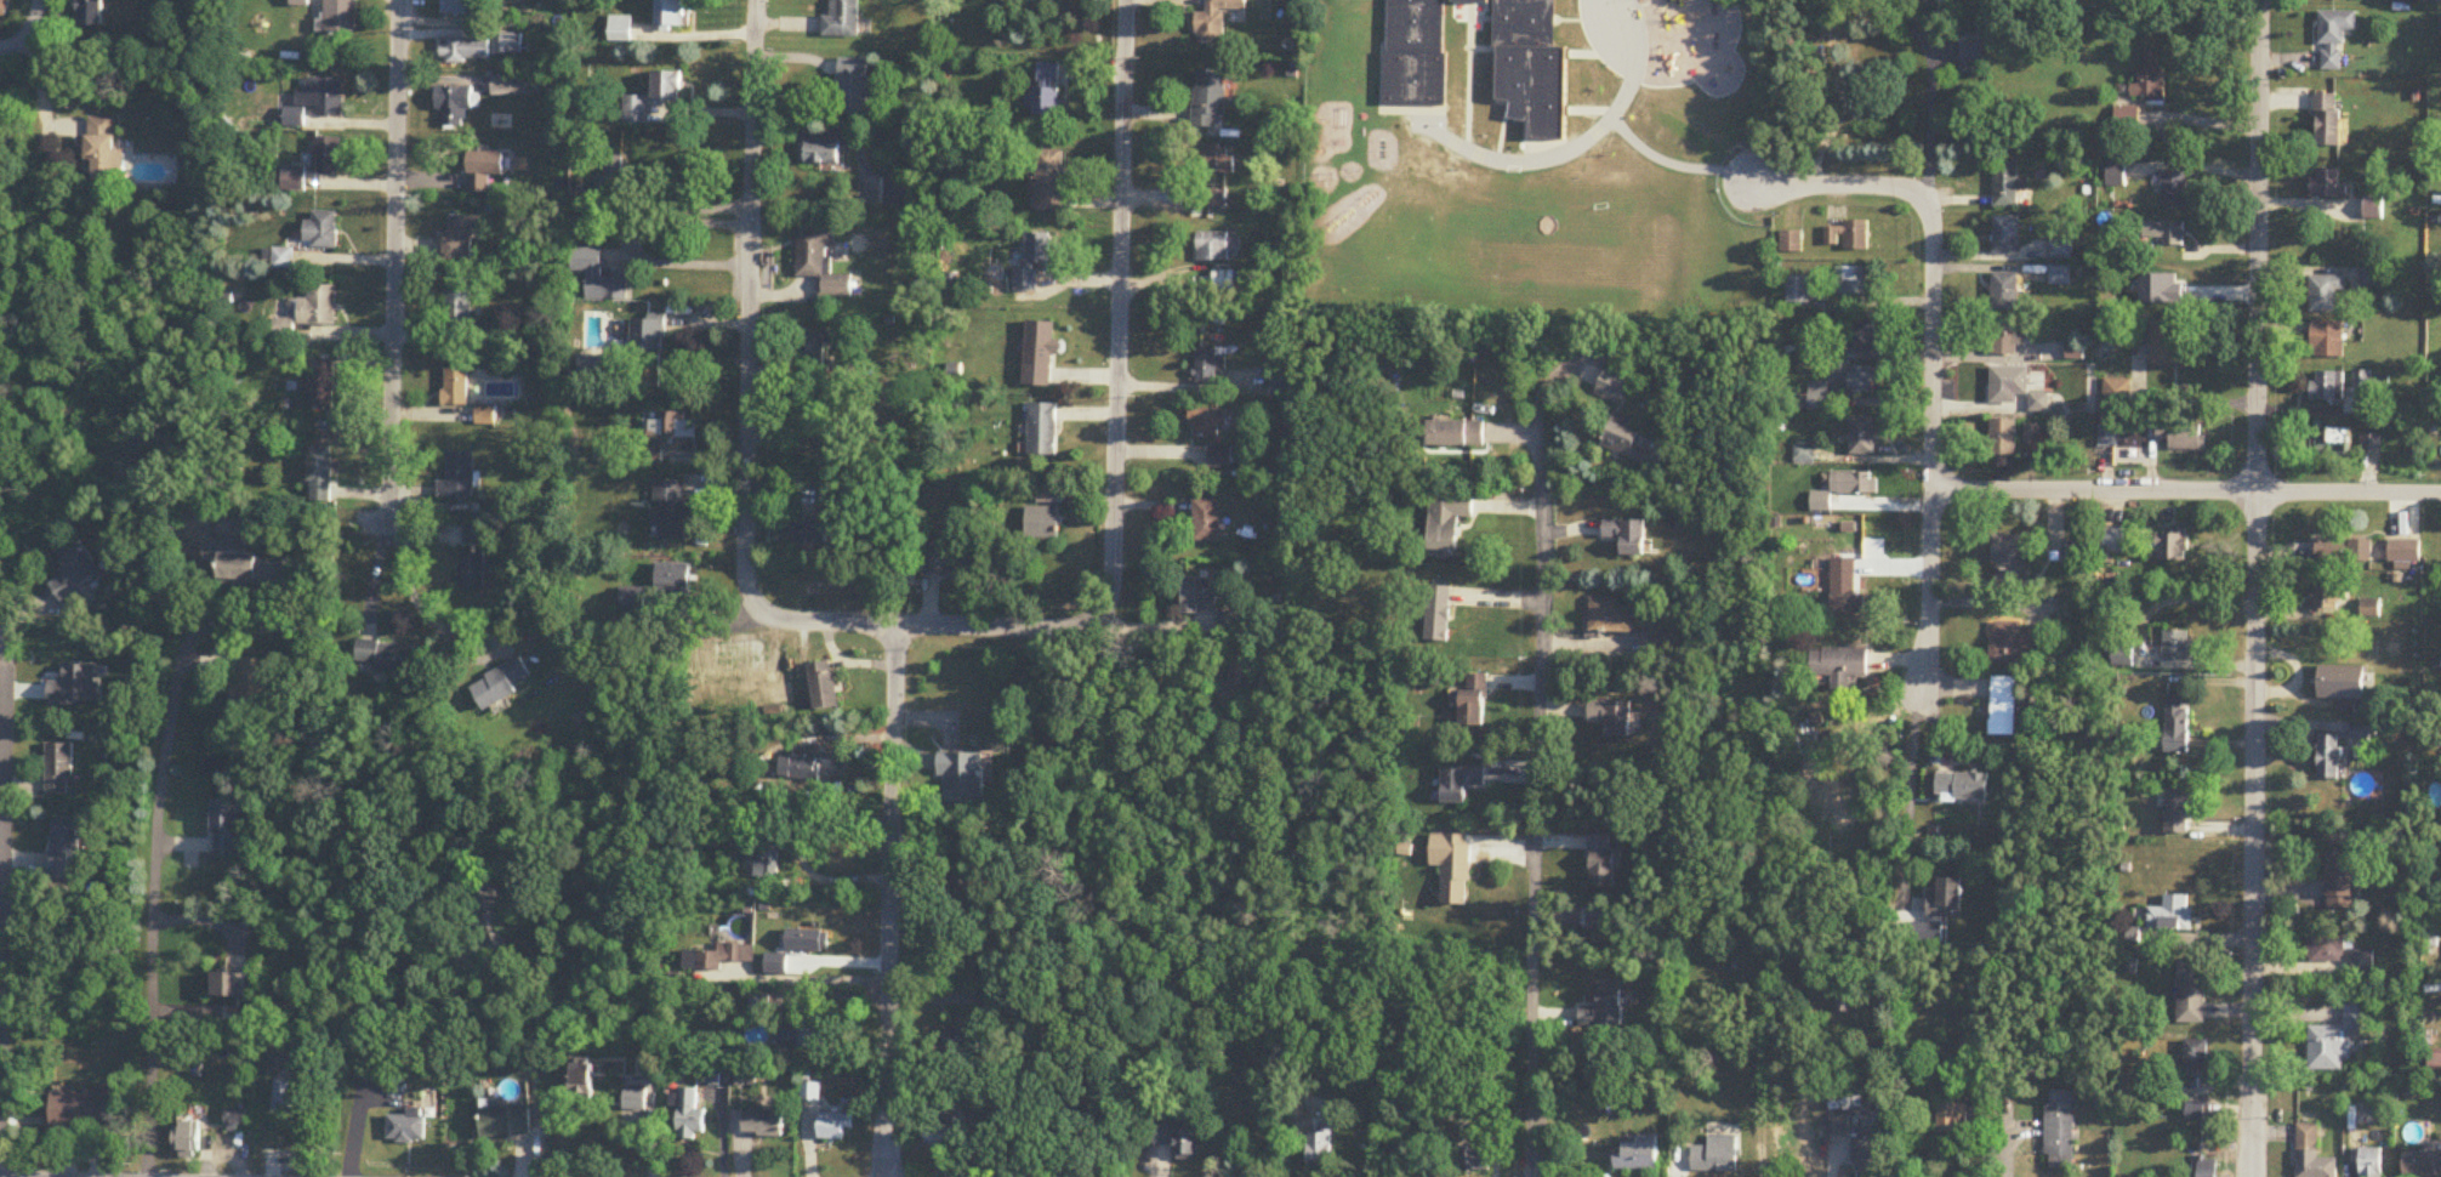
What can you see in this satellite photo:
building: (463, 8)
building: (4, 10)
building: (91, 13)
building: (670, 13)
building: (340, 16)
building: (843, 19)
building: (1216, 21)
building: (2335, 38)
building: (512, 44)
road: (18, 49)
building: (465, 50)
building: (1971, 55)
road: (38, 75)
building: (1415, 76)
building: (2151, 79)
building: (513, 87)
building: (667, 87)
road: (1922, 87)
building: (1046, 92)
building: (318, 98)
building: (1210, 99)
building: (455, 104)
building: (636, 110)
building: (2329, 121)
building: (103, 152)
building: (820, 154)
building: (326, 155)
building: (1218, 160)
building: (2116, 176)
building: (294, 178)
building: (611, 180)
building: (1051, 181)
road: (1842, 187)
building: (2010, 187)
building: (2328, 187)
building: (2174, 189)
building: (897, 193)
building: (2373, 210)
building: (320, 231)
building: (2164, 233)
building: (2007, 235)
building: (462, 237)
building: (1848, 237)
building: (1792, 243)
building: (1218, 248)
building: (1036, 249)
building: (2061, 250)
road: (393, 256)
building: (280, 260)
road: (681, 262)
building: (821, 265)
building: (599, 277)
building: (2372, 278)
building: (1025, 280)
building: (1854, 283)
building: (1798, 291)
building: (2005, 292)
building: (2327, 295)
building: (457, 309)
building: (307, 313)
building: (648, 336)
building: (1862, 336)
building: (2007, 337)
building: (2328, 341)
building: (2166, 342)
building: (810, 351)
building: (1041, 354)
building: (1210, 366)
road: (749, 374)
building: (1281, 377)
building: (2371, 381)
building: (1865, 382)
building: (322, 385)
road: (1196, 386)
building: (455, 387)
building: (1612, 388)
building: (2327, 388)
building: (2015, 390)
building: (2118, 397)
road: (1115, 413)
building: (807, 414)
building: (1210, 422)
building: (1043, 431)
building: (668, 432)
building: (1457, 433)
building: (2183, 437)
building: (1623, 438)
building: (1862, 438)
building: (2122, 438)
building: (2003, 439)
building: (2334, 440)
building: (2371, 444)
road: (1930, 449)
building: (1223, 456)
building: (319, 476)
building: (457, 477)
building: (1851, 484)
road: (2185, 490)
building: (671, 507)
building: (1208, 521)
building: (1447, 521)
building: (1042, 525)
building: (1627, 531)
building: (812, 534)
building: (473, 535)
building: (2111, 541)
building: (2173, 545)
building: (2329, 550)
building: (2361, 551)
building: (2076, 553)
building: (2405, 555)
building: (2010, 559)
building: (945, 563)
building: (75, 570)
building: (258, 573)
building: (472, 573)
building: (673, 582)
road: (2255, 587)
building: (1847, 590)
building: (1201, 595)
building: (2327, 597)
building: (633, 599)
road: (419, 602)
building: (2371, 609)
building: (1436, 610)
building: (1611, 614)
road: (698, 630)
building: (2018, 642)
building: (2177, 646)
building: (387, 655)
building: (2123, 660)
road: (1, 664)
building: (1840, 665)
building: (1245, 673)
building: (2331, 682)
building: (501, 683)
building: (252, 684)
building: (823, 686)
building: (1472, 696)
building: (2004, 706)
building: (1611, 715)
building: (2178, 723)
road: (1, 747)
building: (2329, 756)
road: (1538, 757)
building: (801, 768)
building: (61, 769)
building: (963, 777)
building: (1461, 780)
building: (1963, 786)
road: (1908, 800)
building: (2178, 811)
building: (228, 830)
building: (64, 848)
building: (769, 857)
road: (157, 858)
building: (1598, 860)
building: (974, 871)
building: (1456, 872)
building: (2343, 885)
building: (1946, 899)
road: (889, 902)
building: (2170, 915)
building: (489, 916)
building: (809, 940)
building: (2326, 948)
building: (721, 956)
building: (2363, 963)
building: (778, 965)
road: (814, 978)
building: (229, 985)
building: (2191, 993)
building: (761, 1005)
building: (1023, 1007)
building: (1604, 1007)
building: (806, 1029)
road: (368, 1031)
building: (971, 1040)
building: (2337, 1040)
building: (1976, 1044)
building: (2194, 1062)
building: (584, 1075)
building: (285, 1094)
building: (85, 1109)
building: (2195, 1113)
building: (689, 1114)
building: (1953, 1119)
building: (506, 1122)
building: (763, 1122)
building: (835, 1126)
building: (1839, 1126)
building: (2060, 1126)
building: (406, 1127)
building: (943, 1133)
building: (189, 1138)
building: (1179, 1138)
building: (1871, 1148)
building: (1320, 1149)
building: (2311, 1154)
building: (1640, 1155)
building: (1717, 1155)
building: (1474, 1159)
building: (2372, 1162)
building: (2422, 1164)
building: (2208, 1167)

